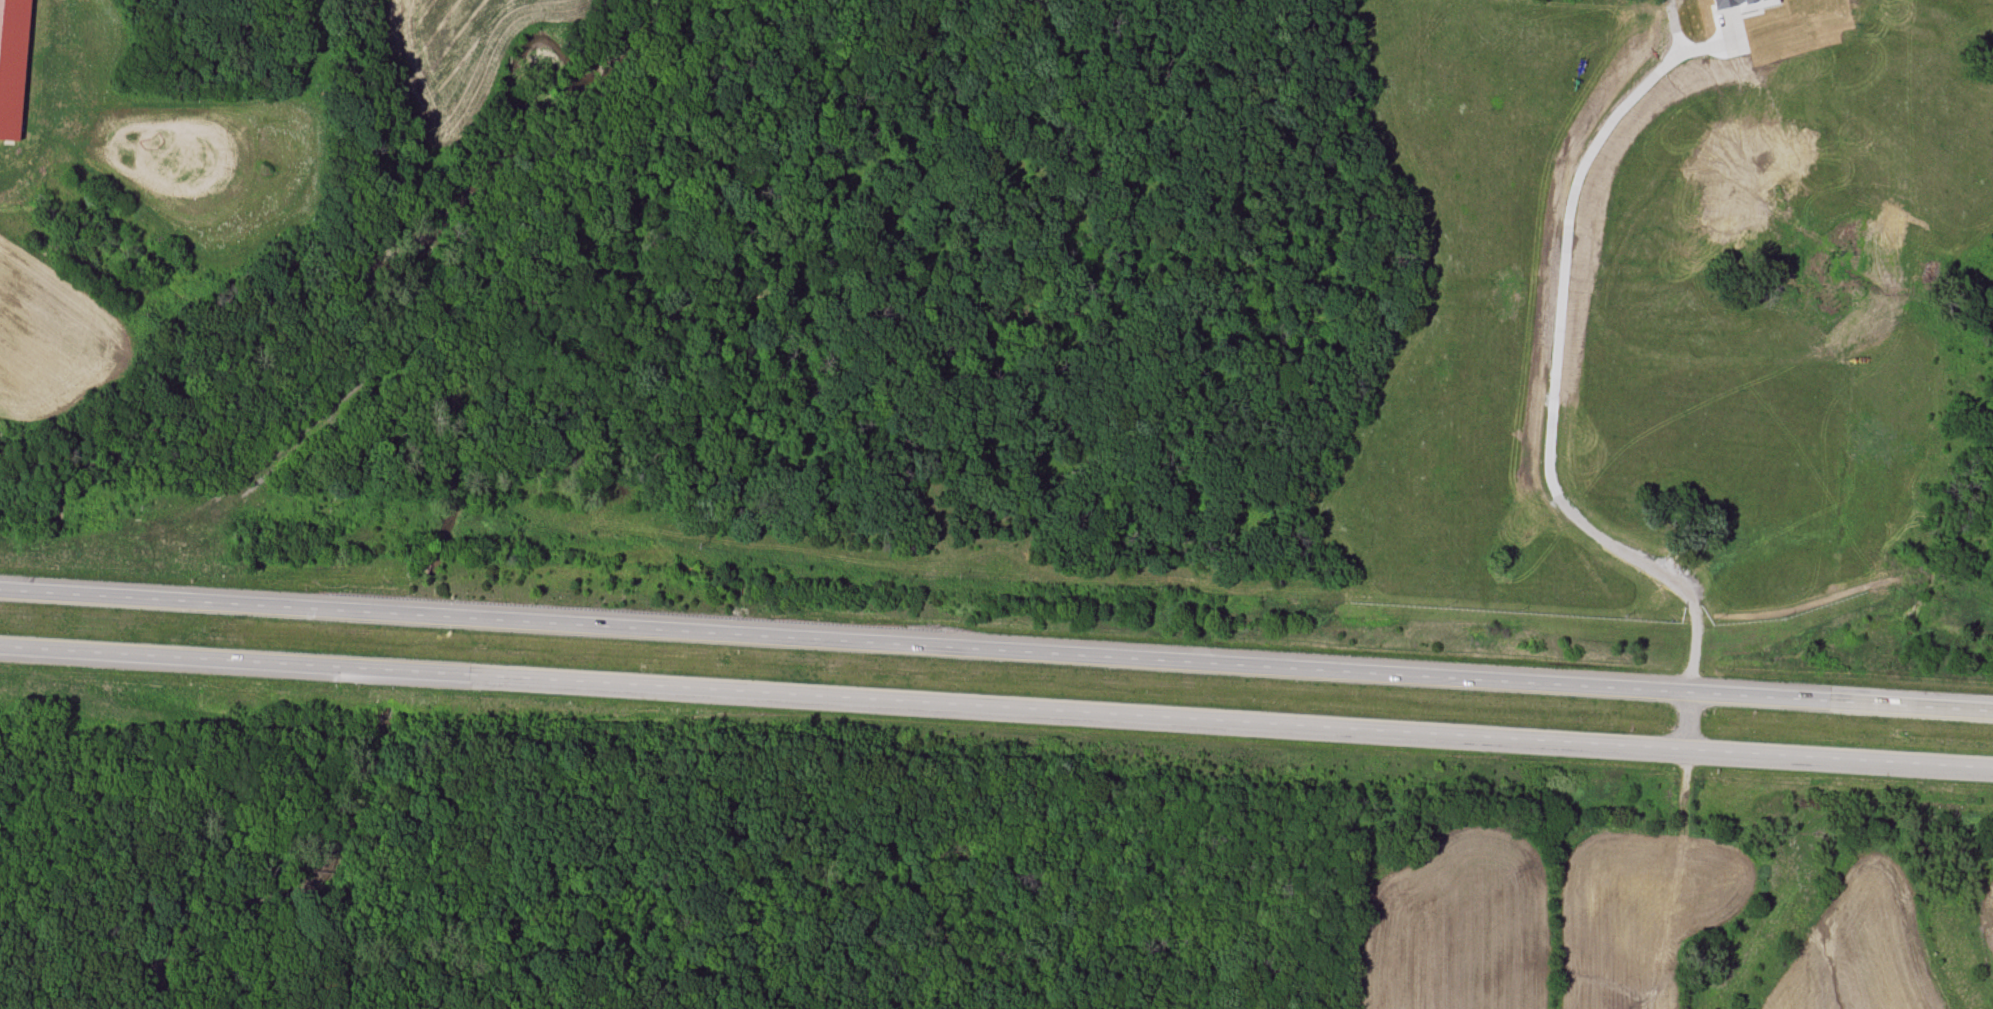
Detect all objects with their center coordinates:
road: (105, 595)
road: (90, 657)
road: (1101, 658)
road: (1087, 719)
crop: (1542, 918)

